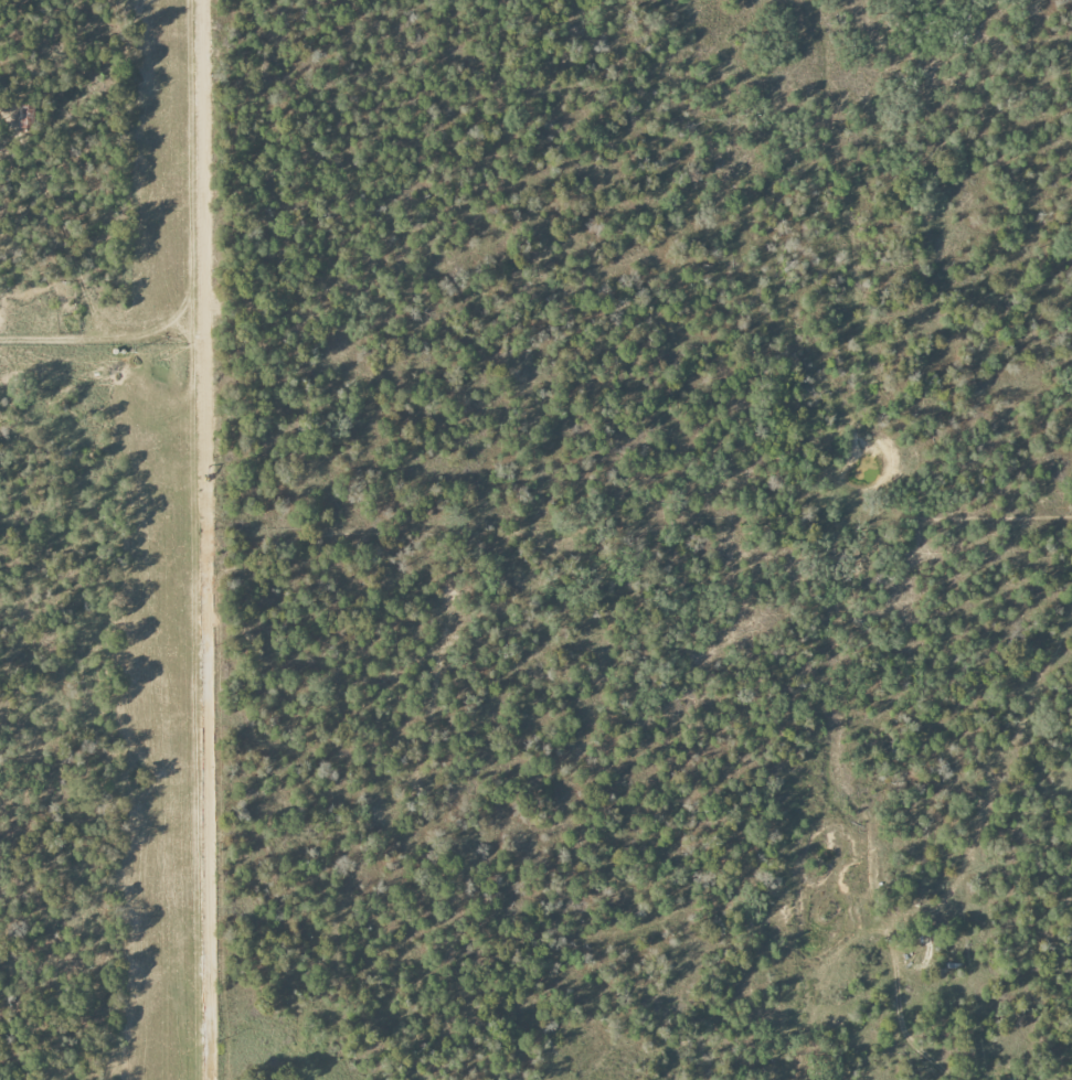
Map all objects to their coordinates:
building: (24, 118)

